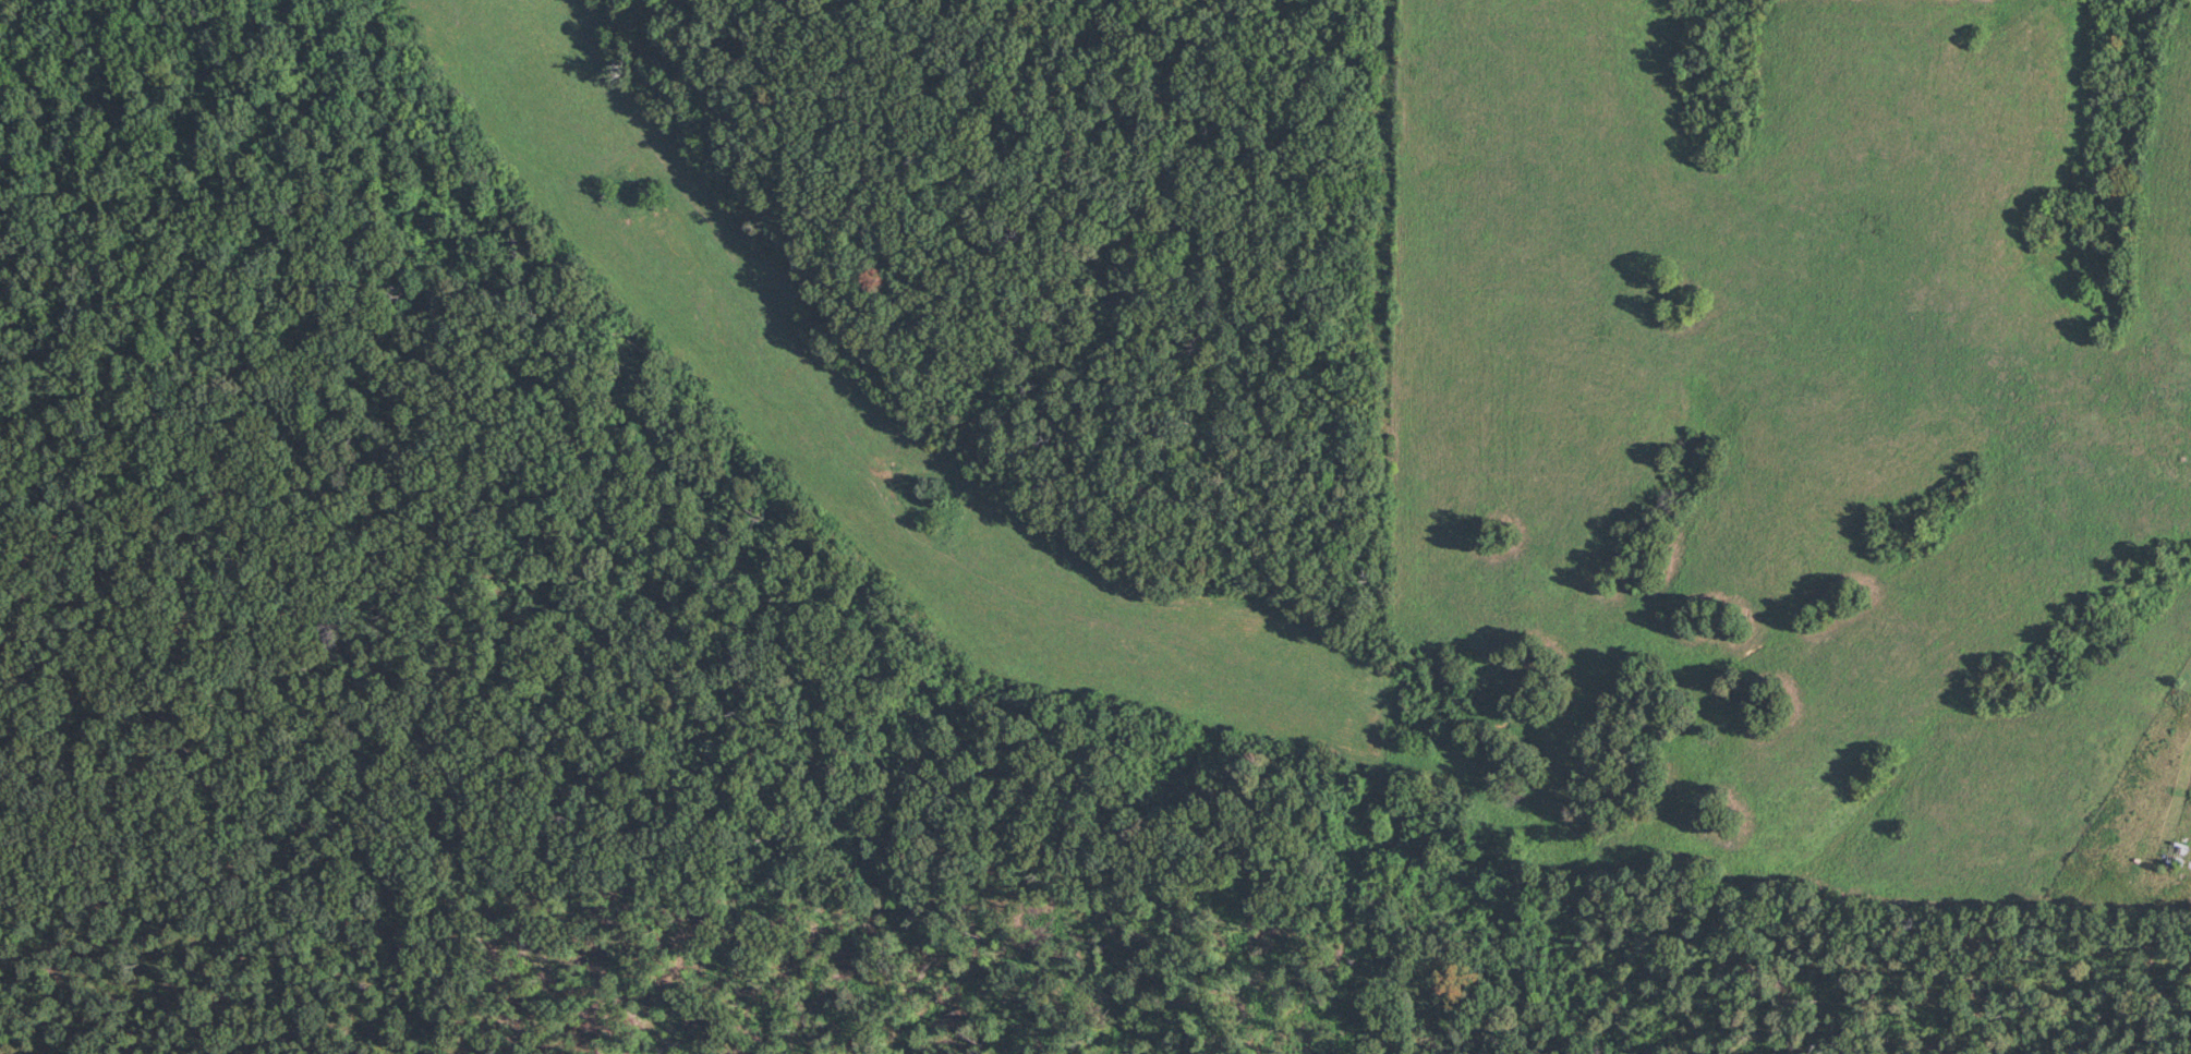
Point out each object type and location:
building: (2174, 855)

